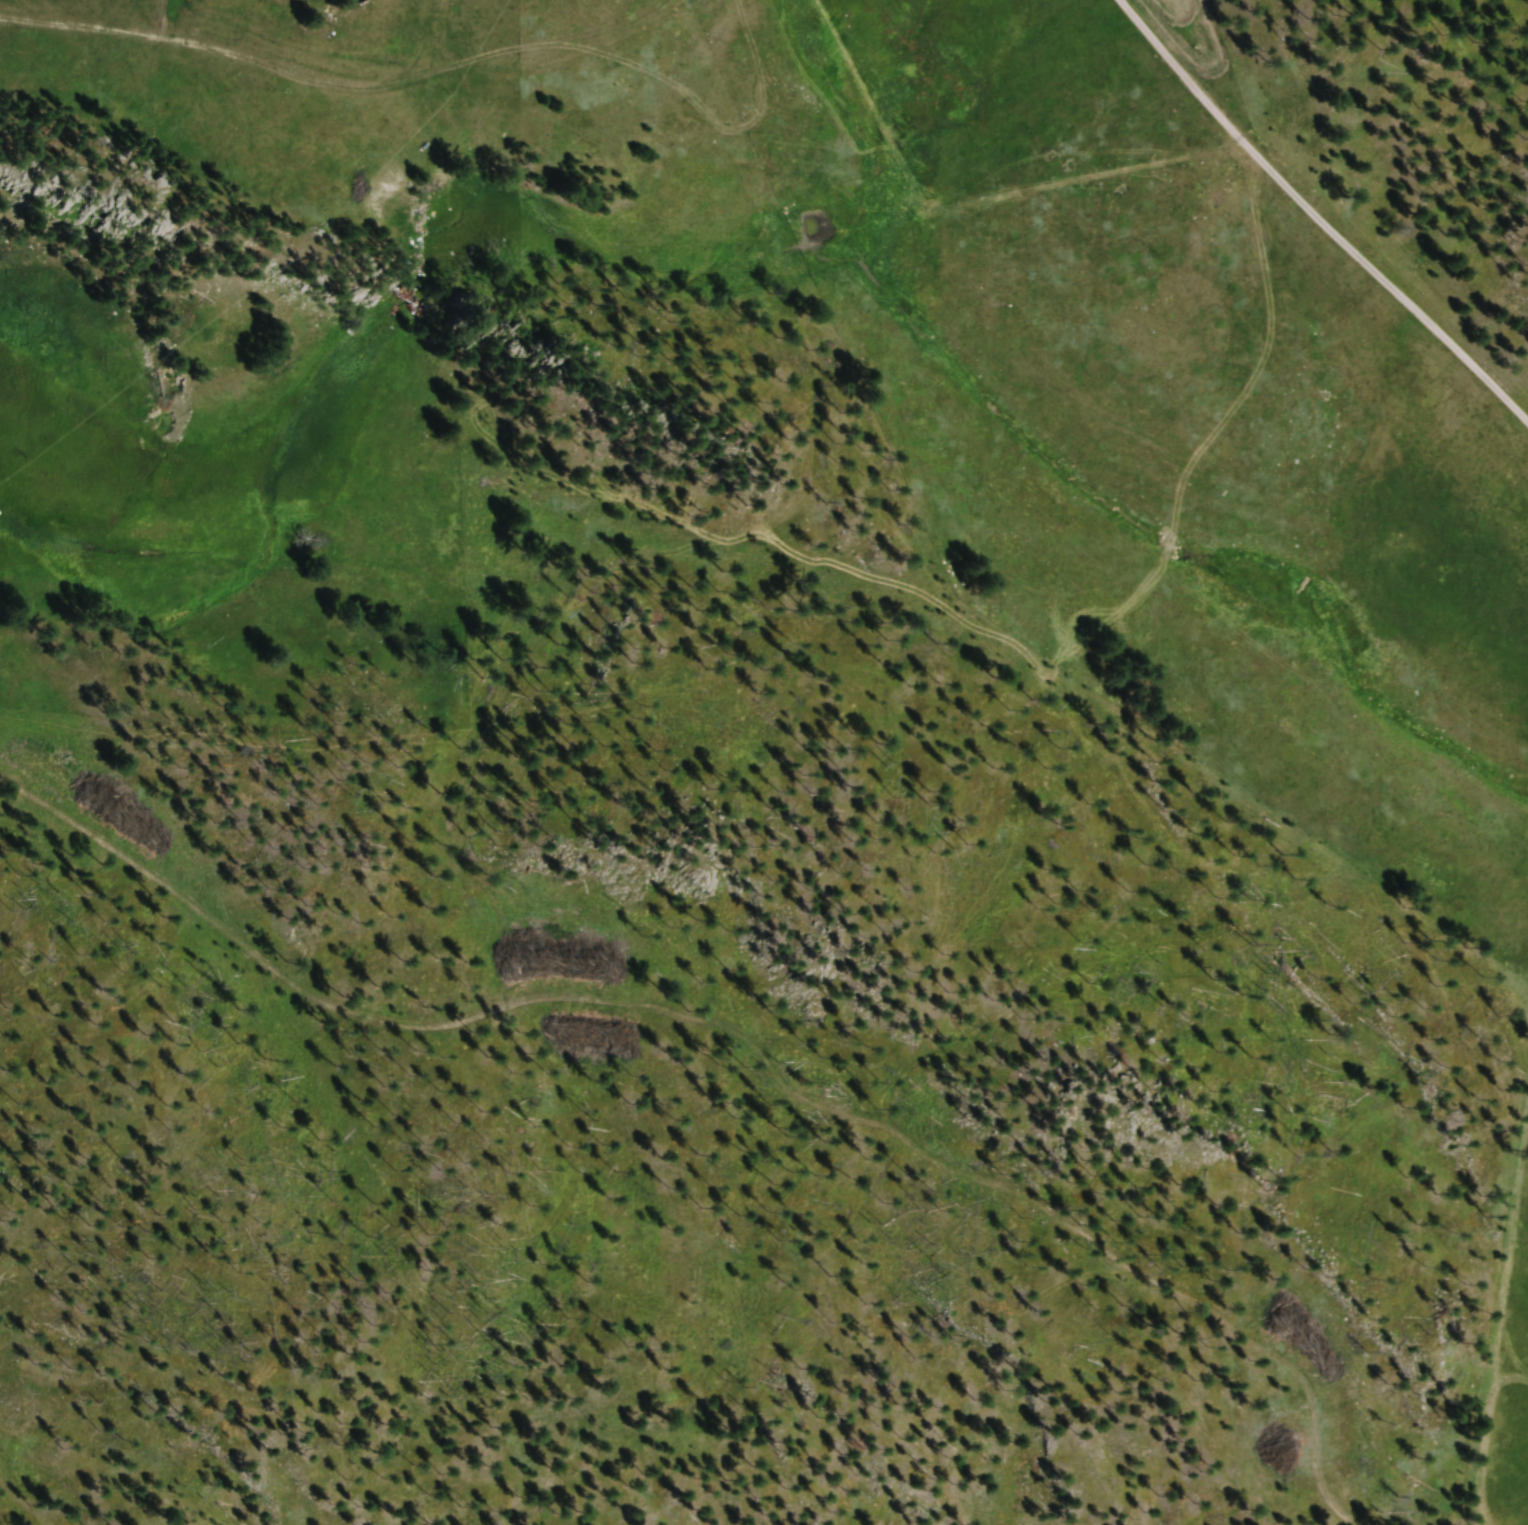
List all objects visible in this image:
road: (1323, 213)

